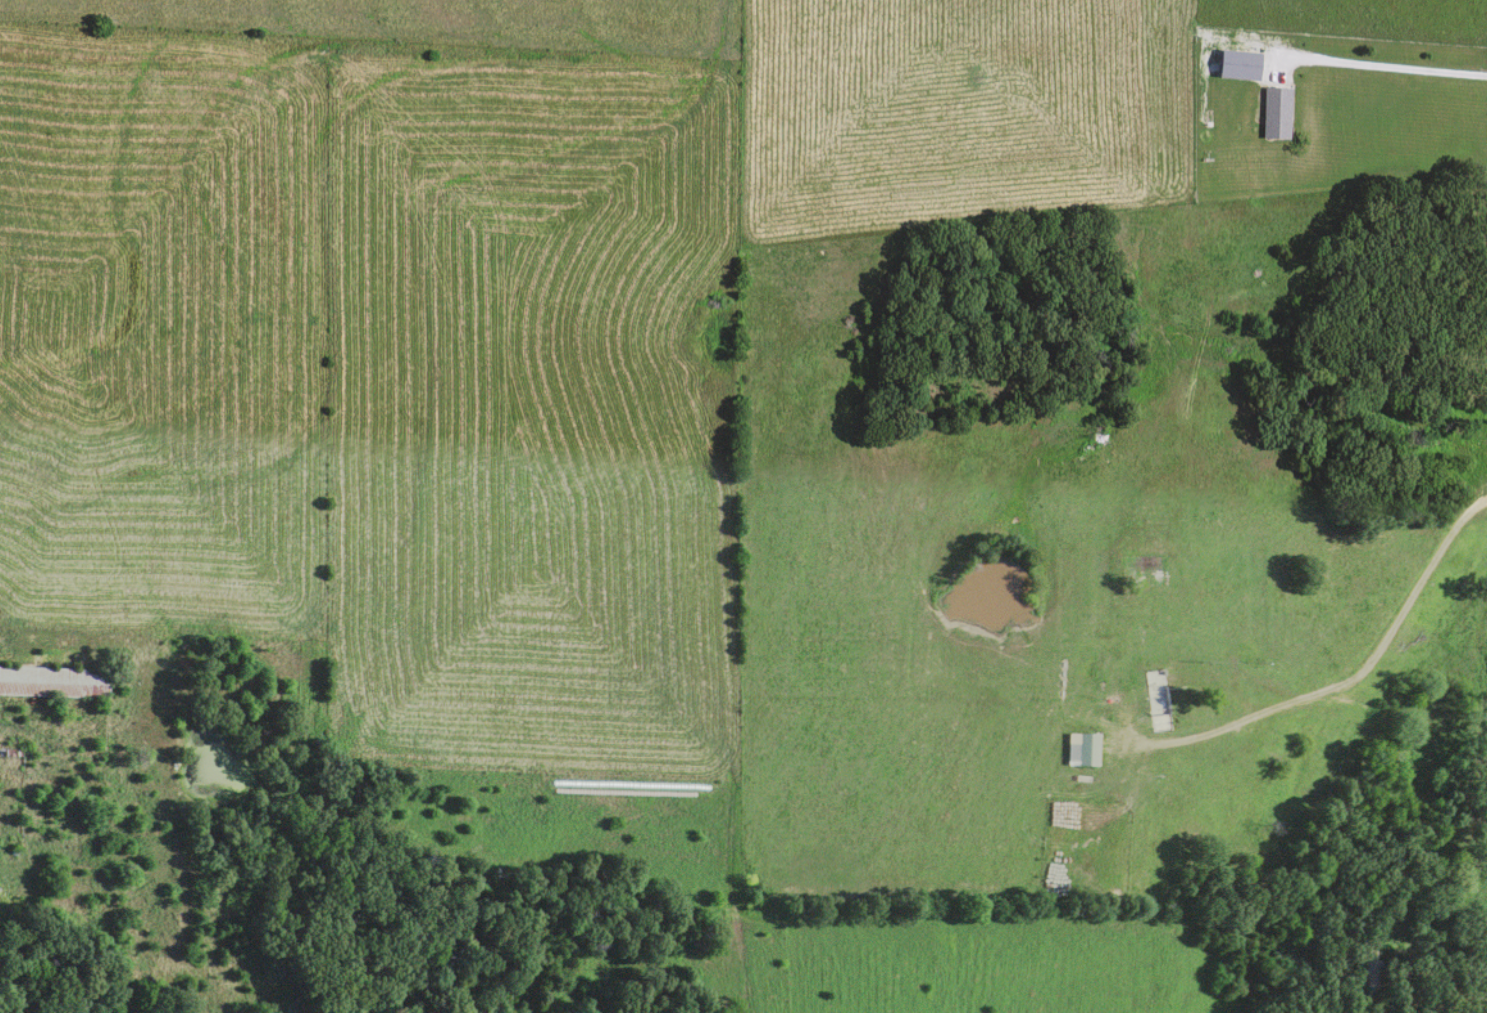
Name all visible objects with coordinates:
road: (1388, 68)
building: (1273, 114)
building: (1139, 566)
road: (1351, 673)
building: (52, 682)
building: (1155, 701)
building: (1081, 750)
building: (1146, 774)
building: (1370, 971)

